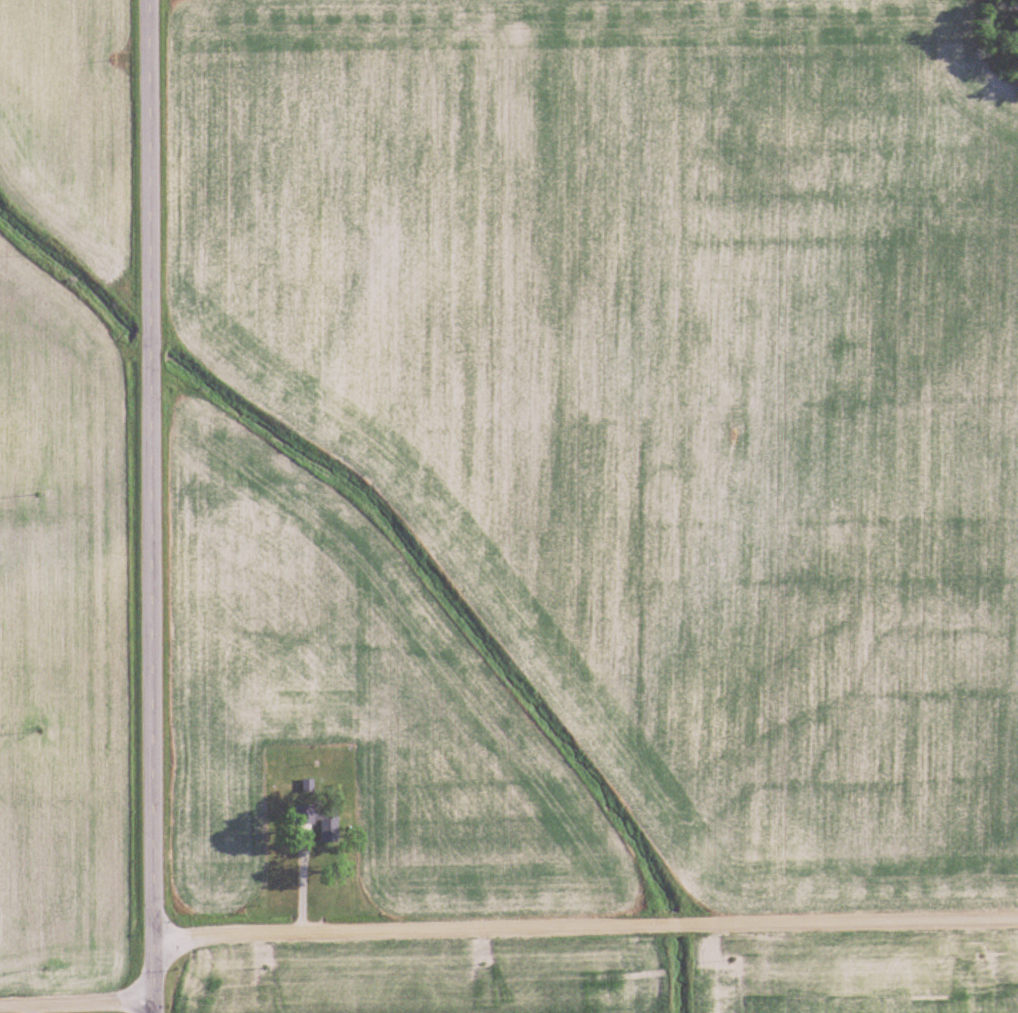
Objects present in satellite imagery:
road: (150, 470)
building: (321, 820)
road: (586, 927)
road: (155, 975)
road: (77, 1008)
road: (154, 1011)

